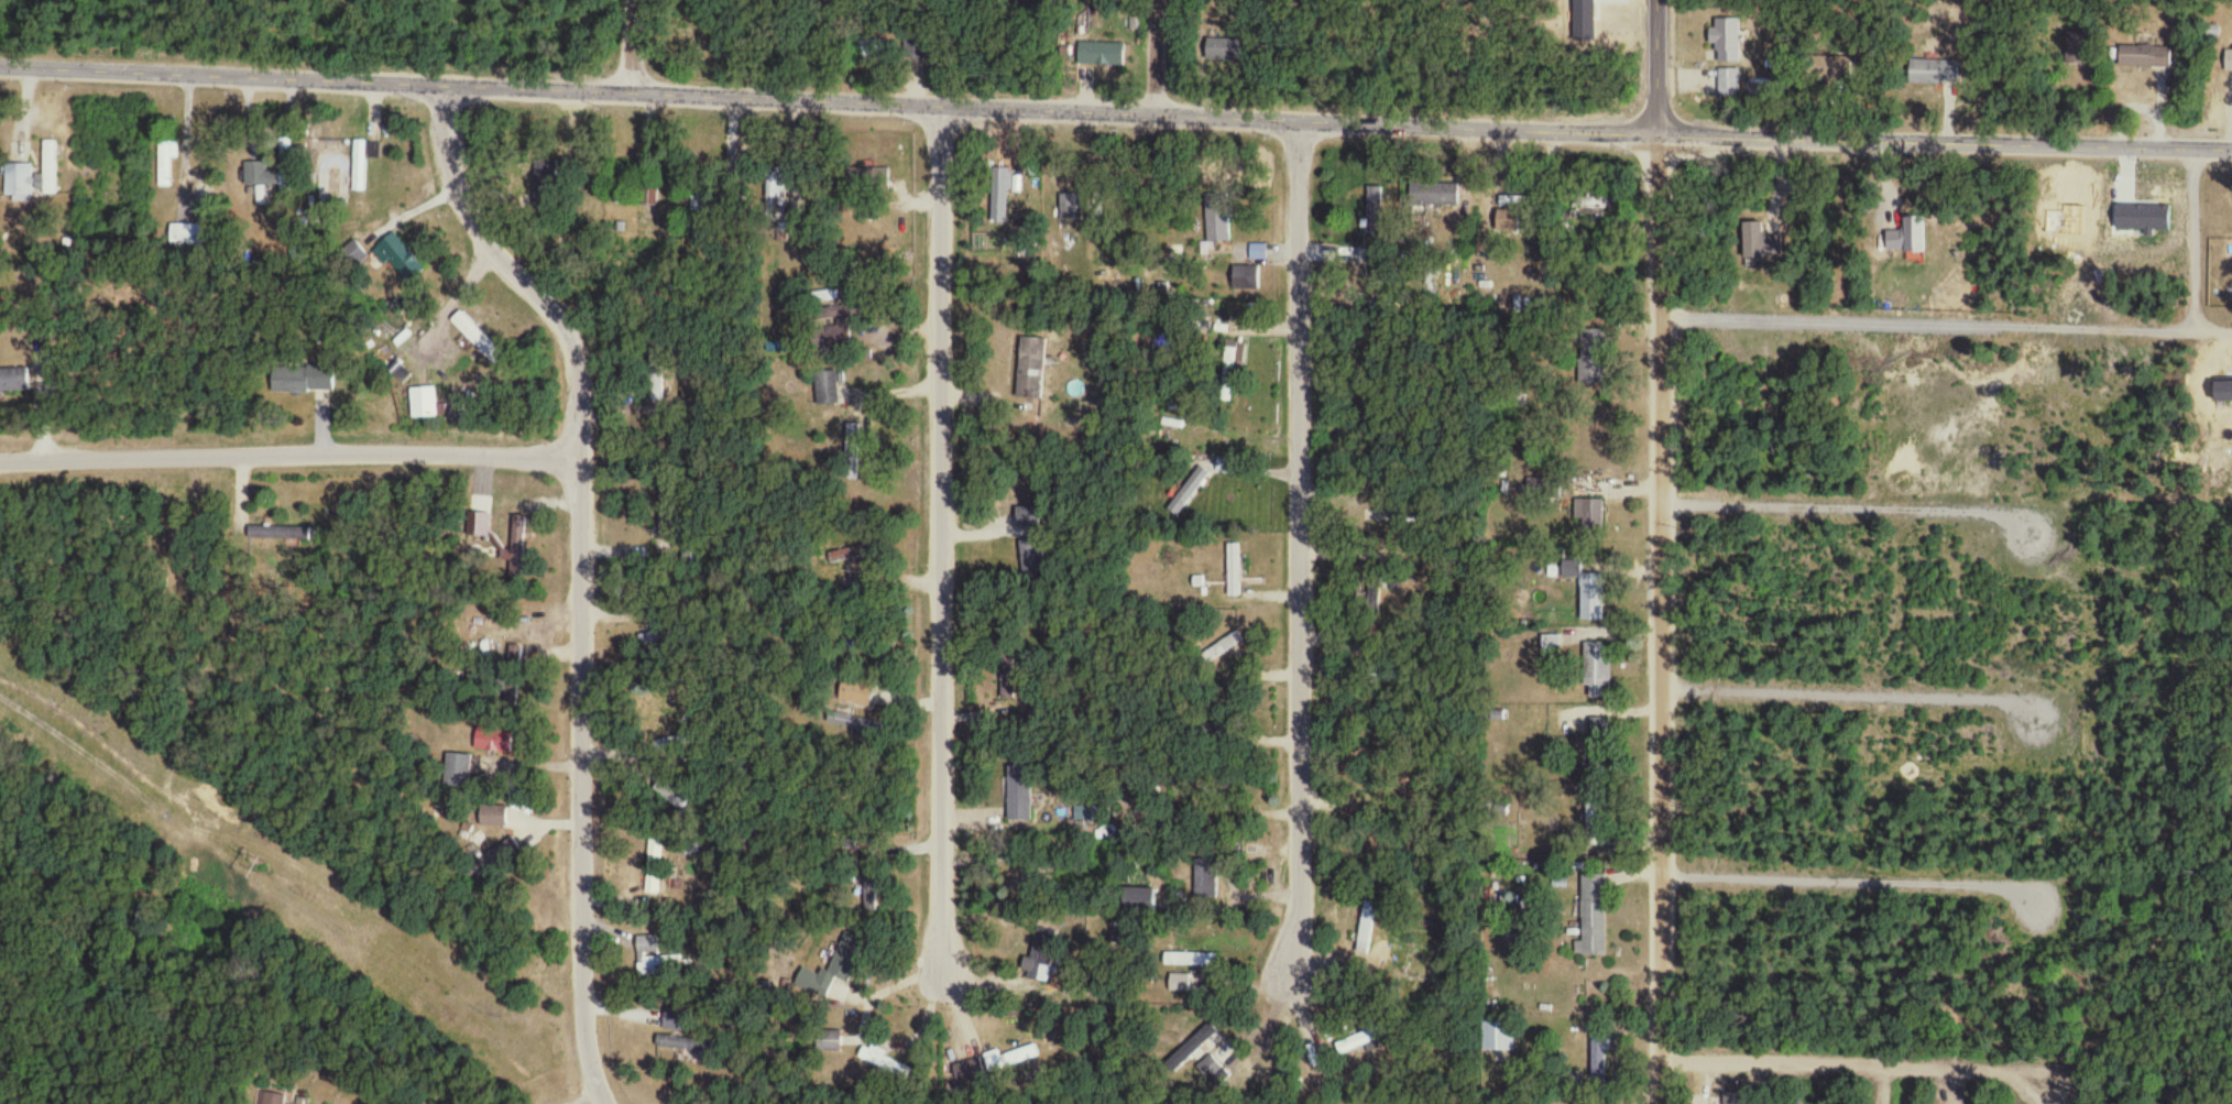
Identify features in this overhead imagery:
building: (1727, 42)
road: (646, 47)
building: (2076, 51)
building: (1225, 52)
building: (1101, 56)
road: (1164, 58)
building: (2144, 58)
building: (2228, 61)
road: (1662, 67)
building: (1834, 68)
building: (1934, 74)
building: (1728, 85)
road: (831, 105)
road: (1947, 141)
building: (287, 164)
building: (168, 167)
building: (360, 168)
building: (53, 171)
building: (262, 176)
building: (19, 183)
building: (866, 183)
building: (776, 195)
building: (1433, 197)
building: (1593, 206)
building: (1070, 208)
building: (1510, 217)
building: (1218, 227)
building: (188, 236)
building: (1907, 239)
road: (2191, 241)
building: (1752, 244)
building: (354, 255)
building: (398, 261)
road: (1829, 321)
road: (2113, 332)
building: (472, 335)
building: (1589, 360)
building: (1234, 363)
building: (1030, 370)
building: (302, 382)
building: (13, 383)
building: (657, 386)
building: (827, 391)
building: (423, 405)
road: (294, 455)
road: (1847, 512)
building: (1027, 517)
building: (1591, 518)
building: (286, 537)
building: (516, 548)
building: (851, 556)
road: (948, 565)
road: (1305, 567)
building: (1234, 572)
road: (588, 577)
building: (1375, 598)
building: (1591, 599)
road: (1665, 619)
building: (1223, 651)
building: (518, 658)
building: (1596, 673)
building: (856, 693)
building: (1007, 693)
road: (1851, 698)
building: (493, 742)
building: (458, 773)
building: (1017, 798)
building: (680, 800)
building: (492, 818)
building: (1590, 824)
power tower: (265, 861)
building: (1206, 882)
building: (656, 884)
road: (1853, 887)
building: (872, 901)
building: (1139, 903)
building: (1593, 918)
building: (1367, 930)
building: (660, 961)
building: (1029, 970)
building: (823, 979)
building: (676, 1021)
building: (1498, 1037)
building: (830, 1043)
building: (676, 1045)
building: (1357, 1045)
building: (1014, 1061)
building: (887, 1064)
road: (1857, 1068)
road: (2052, 1095)
building: (1733, 1098)
building: (273, 1100)
building: (296, 1103)

